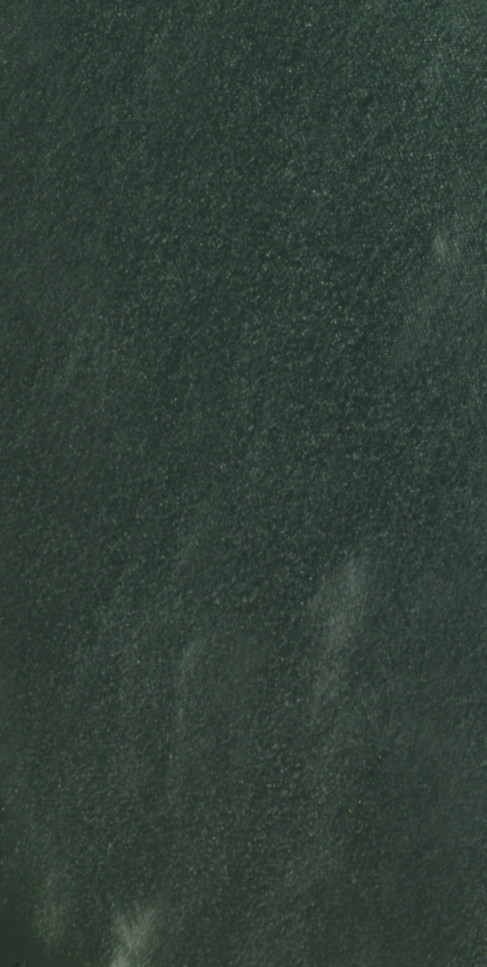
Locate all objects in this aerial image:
river: (243, 52)
park: (243, 483)

